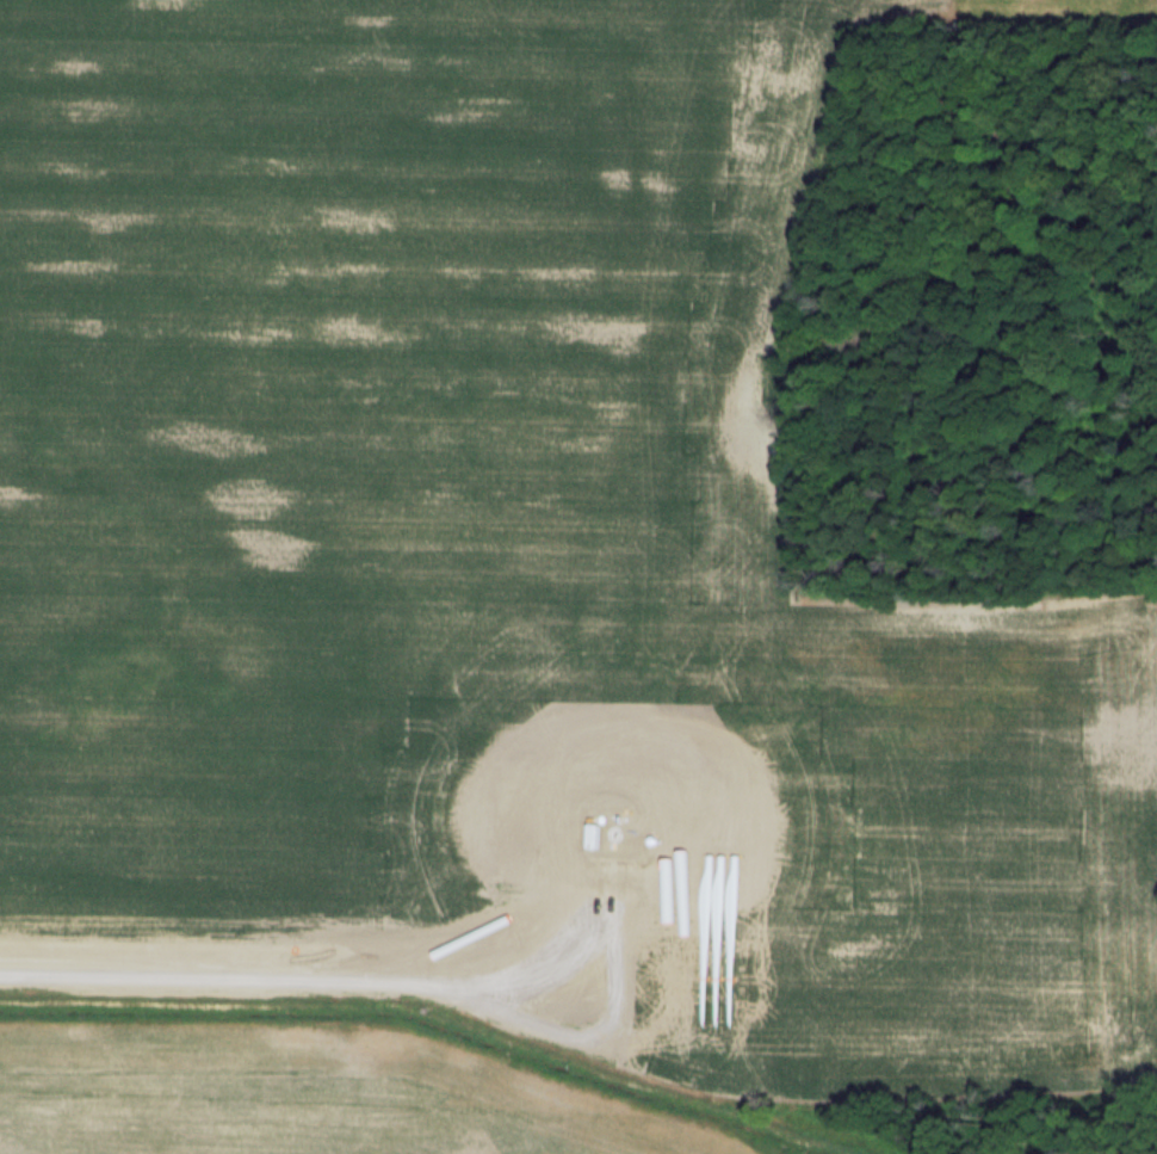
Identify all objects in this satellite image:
wind turbine: (618, 848)
road: (268, 968)

